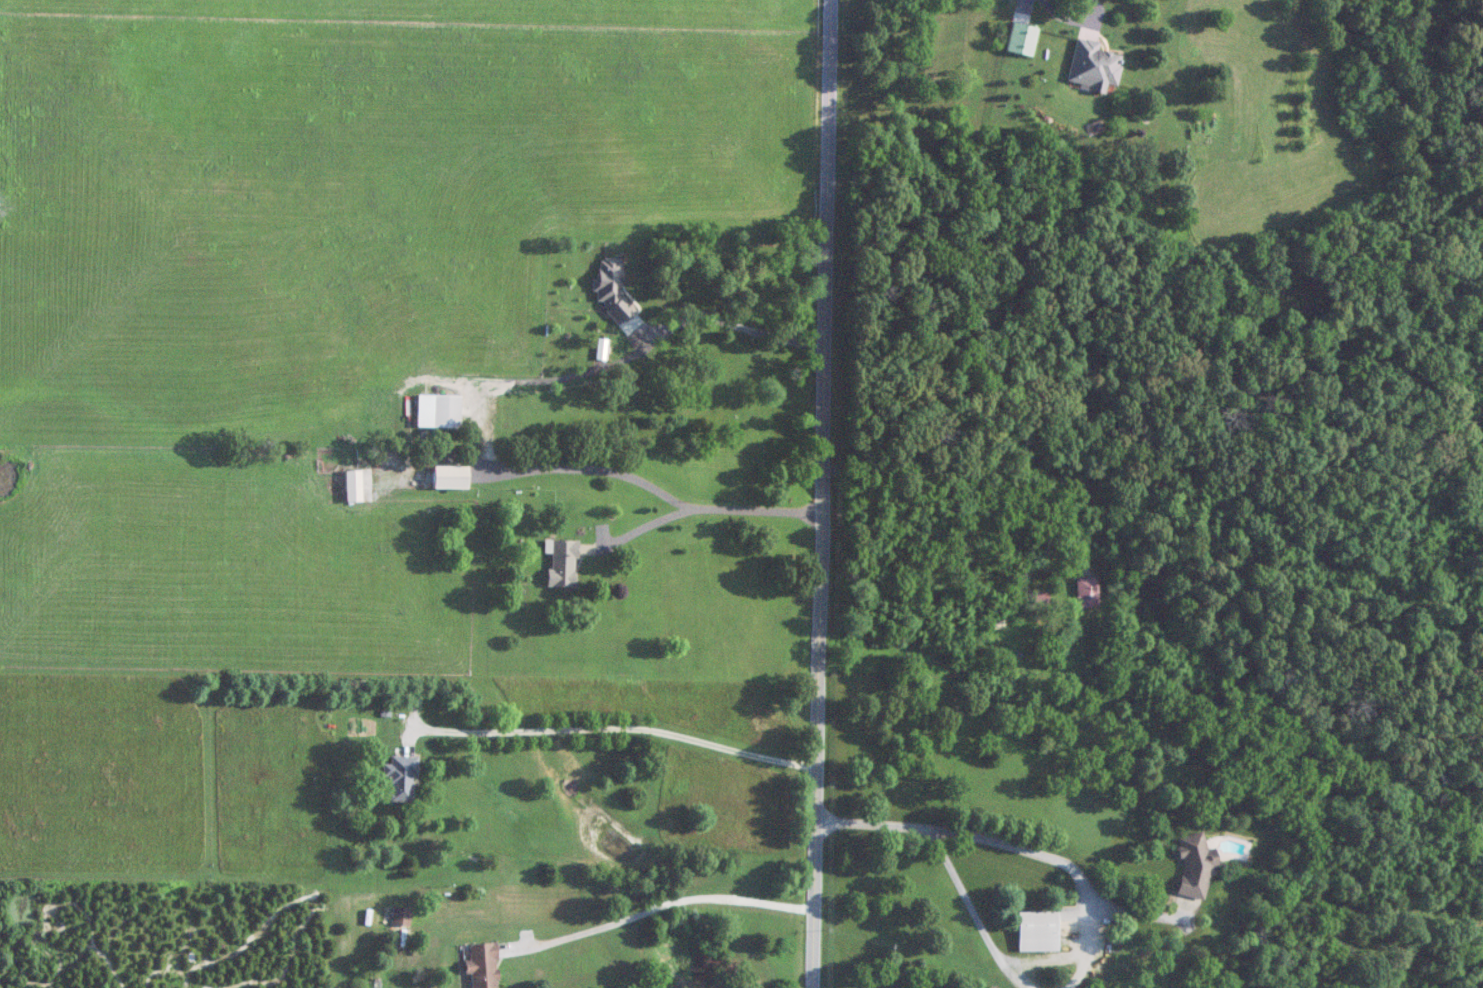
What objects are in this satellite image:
road: (1064, 18)
building: (1019, 40)
building: (1091, 66)
road: (727, 320)
building: (435, 410)
road: (627, 473)
building: (445, 476)
building: (350, 485)
road: (810, 493)
road: (1002, 542)
building: (559, 562)
building: (1083, 592)
road: (617, 730)
building: (397, 779)
road: (866, 821)
road: (1062, 863)
building: (1191, 864)
road: (658, 906)
road: (972, 911)
road: (1133, 912)
building: (399, 916)
building: (1034, 931)
building: (479, 965)

